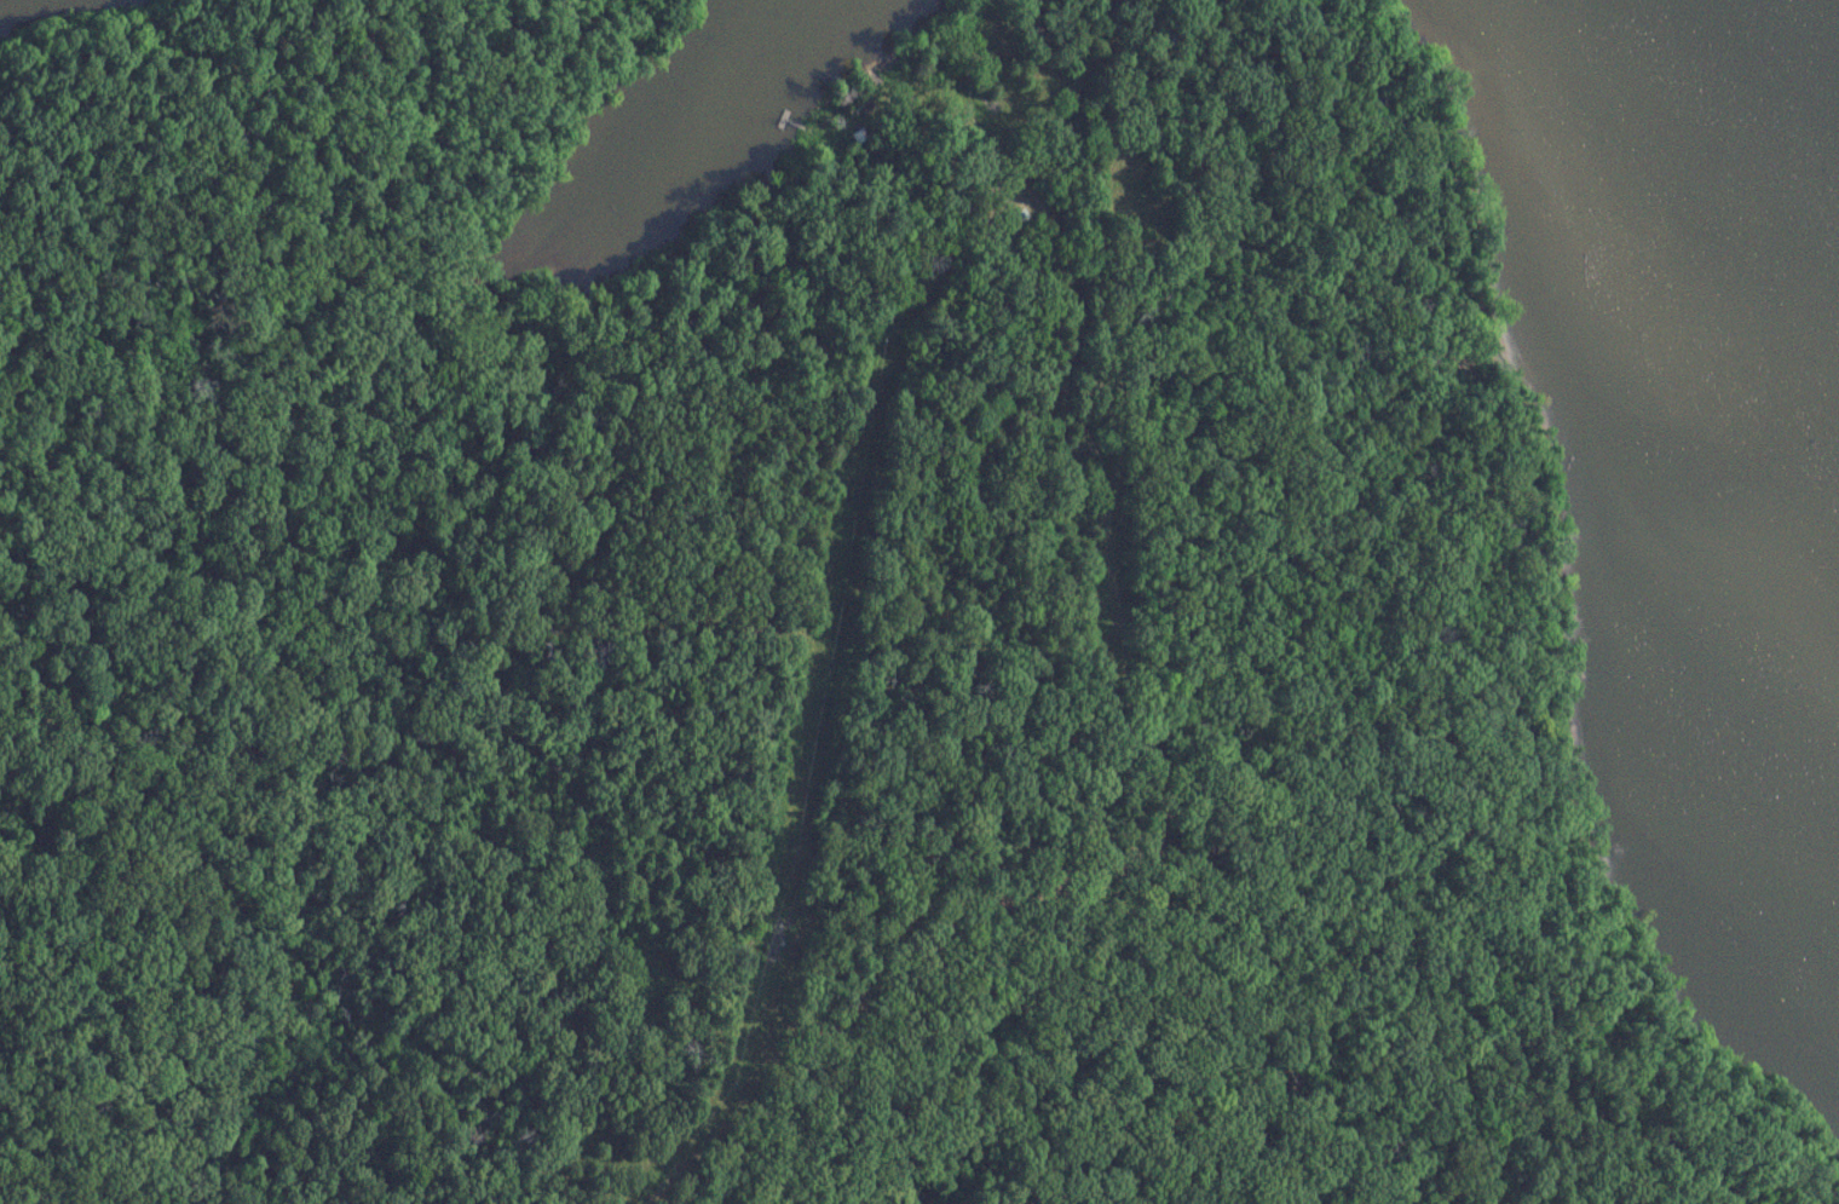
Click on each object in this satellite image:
river: (1823, 33)
building: (1171, 40)
road: (1146, 719)

